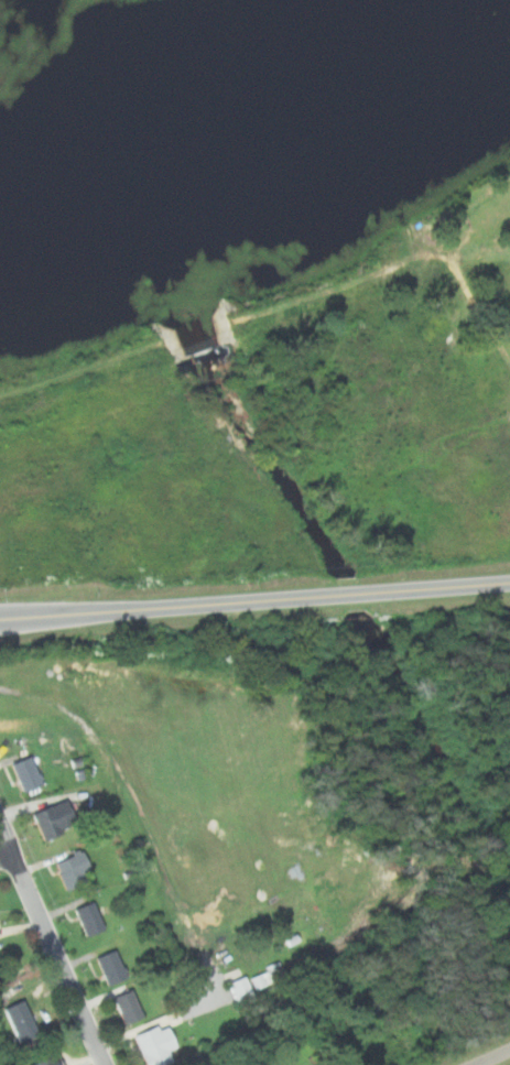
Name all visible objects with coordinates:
road: (79, 357)
building: (185, 365)
road: (254, 600)
building: (29, 772)
building: (56, 817)
road: (7, 854)
building: (74, 869)
building: (90, 917)
road: (54, 942)
building: (111, 966)
building: (261, 979)
building: (242, 989)
building: (128, 1007)
building: (22, 1020)
building: (156, 1045)
road: (491, 1056)
building: (47, 1061)

